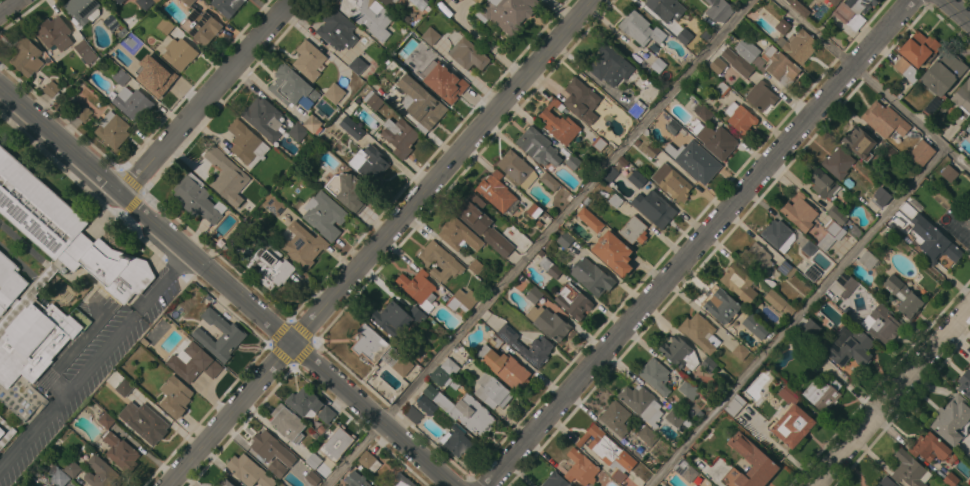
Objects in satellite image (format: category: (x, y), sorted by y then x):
building: (105, 0)
building: (107, 0)
building: (683, 0)
building: (119, 1)
building: (412, 1)
building: (188, 2)
building: (387, 2)
building: (834, 2)
building: (145, 3)
road: (8, 6)
building: (227, 6)
building: (666, 8)
building: (799, 8)
road: (961, 8)
building: (718, 10)
building: (82, 11)
building: (852, 12)
building: (507, 13)
building: (368, 16)
building: (111, 22)
building: (165, 26)
building: (201, 26)
building: (782, 26)
building: (639, 28)
building: (337, 30)
building: (54, 33)
building: (430, 36)
building: (684, 36)
building: (799, 45)
building: (918, 48)
building: (419, 49)
building: (85, 51)
building: (143, 53)
building: (179, 53)
building: (467, 54)
building: (26, 57)
building: (744, 58)
building: (308, 60)
building: (357, 65)
building: (658, 65)
building: (717, 65)
building: (610, 66)
building: (780, 66)
building: (906, 69)
building: (121, 77)
building: (156, 78)
building: (941, 80)
building: (444, 83)
road: (873, 85)
building: (290, 86)
building: (51, 89)
building: (334, 93)
building: (760, 96)
road: (210, 99)
building: (580, 99)
building: (962, 99)
building: (373, 100)
building: (421, 102)
building: (133, 103)
building: (636, 109)
building: (82, 112)
building: (702, 112)
building: (263, 118)
building: (740, 118)
building: (884, 120)
building: (312, 123)
building: (558, 123)
building: (969, 125)
building: (350, 126)
building: (672, 127)
building: (112, 130)
building: (297, 132)
building: (399, 136)
building: (717, 141)
road: (62, 142)
building: (858, 142)
building: (599, 143)
building: (246, 144)
building: (538, 147)
building: (650, 150)
building: (920, 153)
building: (622, 161)
building: (694, 161)
building: (572, 162)
building: (838, 163)
building: (369, 164)
building: (516, 168)
building: (948, 173)
building: (609, 175)
building: (228, 177)
building: (635, 178)
building: (549, 181)
building: (671, 183)
building: (823, 183)
building: (347, 190)
building: (495, 191)
building: (884, 194)
building: (196, 198)
building: (615, 201)
building: (274, 205)
building: (654, 208)
building: (534, 210)
building: (799, 212)
building: (836, 214)
building: (969, 214)
building: (324, 215)
building: (589, 219)
building: (484, 228)
building: (633, 230)
building: (458, 235)
building: (778, 235)
building: (830, 235)
building: (929, 237)
building: (564, 240)
road: (381, 243)
road: (541, 243)
road: (700, 243)
building: (302, 244)
building: (808, 248)
building: (613, 253)
building: (757, 259)
building: (867, 260)
building: (439, 261)
building: (269, 266)
building: (475, 266)
building: (549, 267)
building: (786, 268)
building: (812, 273)
building: (591, 276)
building: (48, 281)
building: (738, 283)
building: (846, 284)
building: (419, 289)
building: (534, 295)
building: (903, 297)
building: (462, 300)
building: (573, 301)
building: (778, 303)
building: (720, 305)
building: (395, 318)
road: (798, 318)
building: (548, 322)
building: (883, 325)
building: (755, 326)
building: (809, 329)
building: (700, 333)
building: (232, 336)
road: (286, 342)
building: (848, 347)
building: (540, 348)
building: (378, 350)
building: (740, 352)
building: (679, 353)
building: (816, 359)
road: (93, 360)
building: (194, 363)
building: (708, 365)
building: (503, 366)
building: (445, 371)
building: (655, 376)
building: (113, 378)
building: (964, 383)
building: (123, 387)
building: (688, 389)
building: (492, 391)
building: (786, 394)
building: (822, 394)
building: (175, 396)
road: (893, 398)
building: (303, 401)
building: (641, 403)
building: (426, 405)
building: (734, 405)
building: (462, 410)
building: (326, 414)
building: (413, 415)
building: (616, 418)
building: (674, 418)
building: (106, 420)
building: (952, 420)
building: (144, 422)
building: (287, 423)
building: (792, 426)
building: (5, 433)
building: (647, 435)
building: (456, 441)
building: (265, 444)
building: (336, 444)
building: (928, 447)
building: (121, 452)
building: (607, 452)
building: (751, 455)
building: (699, 456)
building: (313, 460)
building: (368, 461)
building: (275, 468)
building: (71, 469)
building: (581, 469)
building: (685, 470)
building: (909, 470)
building: (249, 471)
building: (101, 473)
building: (57, 476)
building: (311, 478)
building: (950, 479)
building: (358, 480)
building: (403, 480)
building: (555, 480)
building: (224, 482)
building: (885, 482)
building: (662, 484)
building: (693, 485)
building: (694, 485)

